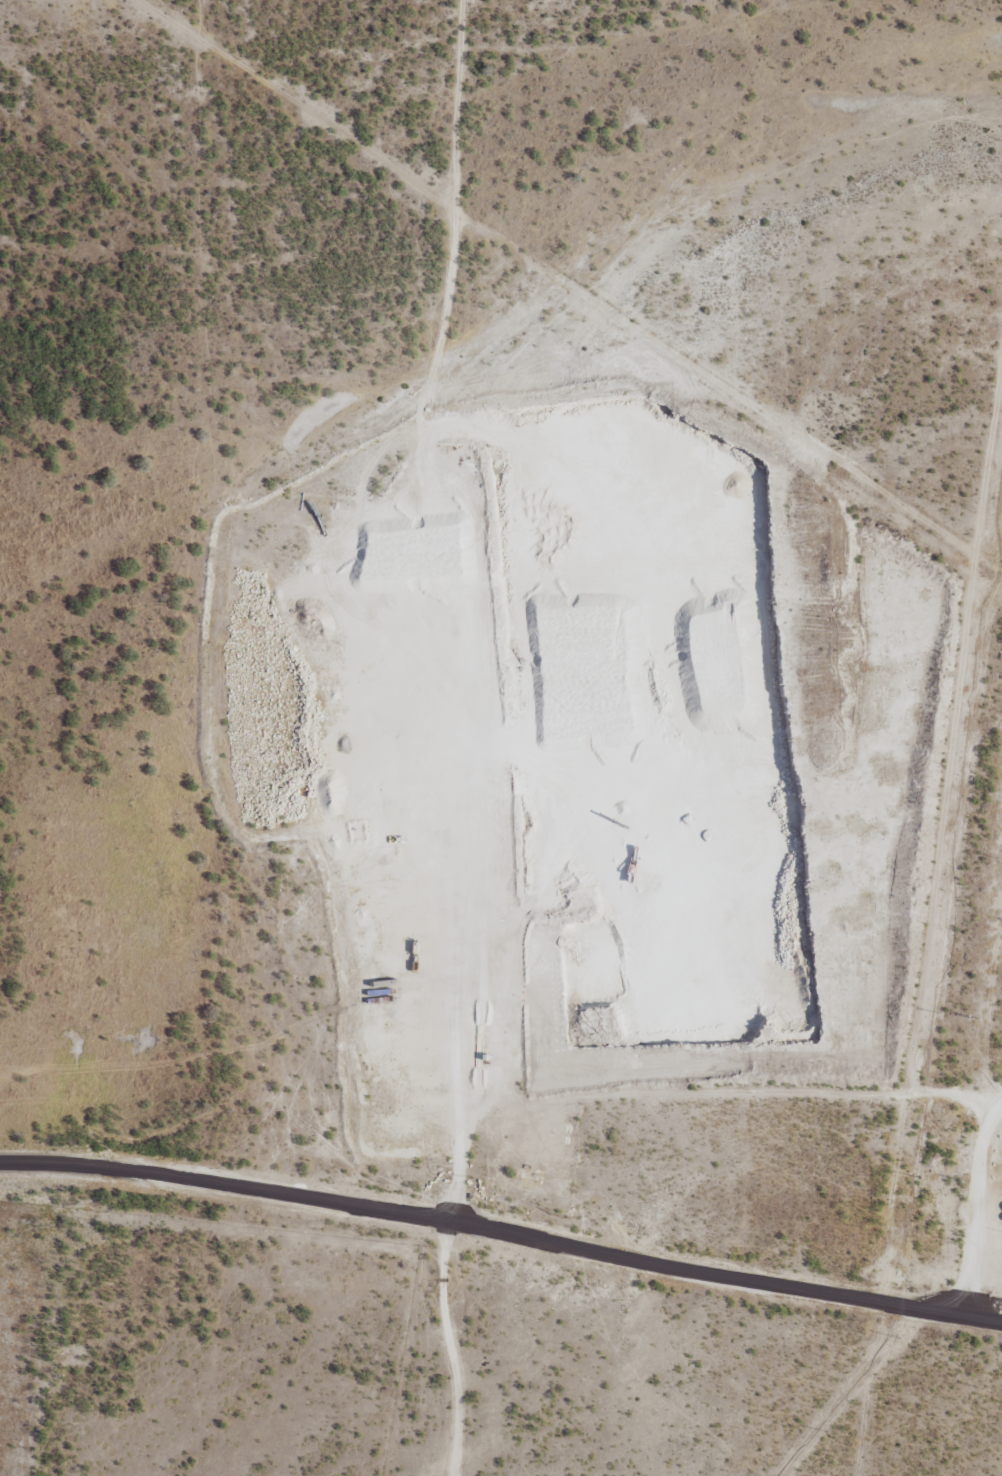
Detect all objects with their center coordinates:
road: (492, 604)
road: (499, 1230)
road: (441, 1349)

